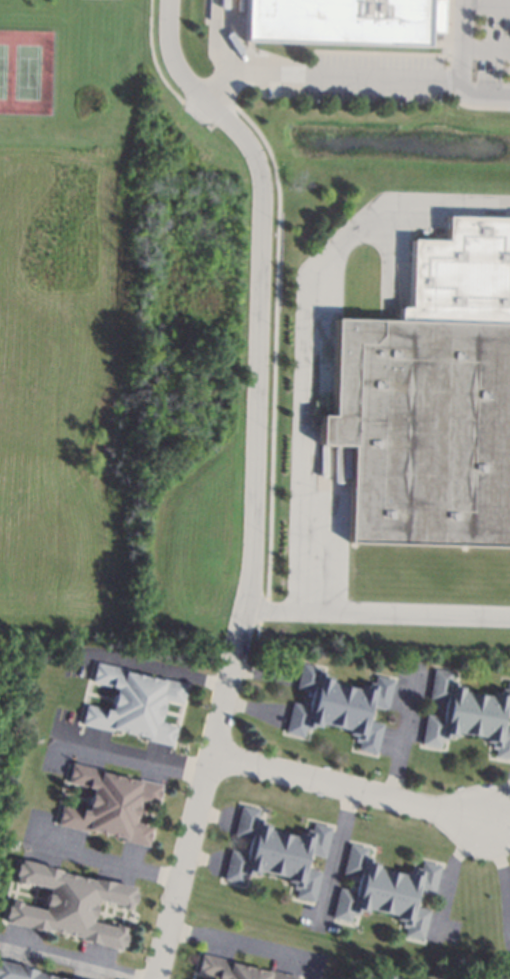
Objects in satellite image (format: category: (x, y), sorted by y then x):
road: (485, 1)
building: (342, 20)
road: (484, 48)
parking lot: (419, 66)
park: (2, 69)
road: (458, 70)
park: (25, 71)
park: (26, 71)
park: (82, 73)
road: (252, 79)
road: (383, 82)
road: (199, 109)
road: (260, 288)
road: (312, 333)
building: (431, 396)
crop: (95, 429)
road: (379, 615)
road: (151, 669)
park: (9, 680)
building: (133, 703)
building: (338, 706)
building: (465, 713)
road: (405, 730)
road: (135, 755)
road: (351, 789)
road: (202, 794)
road: (501, 802)
building: (109, 804)
road: (501, 819)
road: (501, 825)
building: (272, 852)
road: (334, 854)
road: (105, 860)
road: (450, 871)
road: (501, 872)
building: (385, 890)
building: (67, 904)
road: (241, 944)
road: (72, 962)
building: (232, 970)
building: (20, 972)
building: (389, 976)
building: (70, 978)
building: (423, 978)

